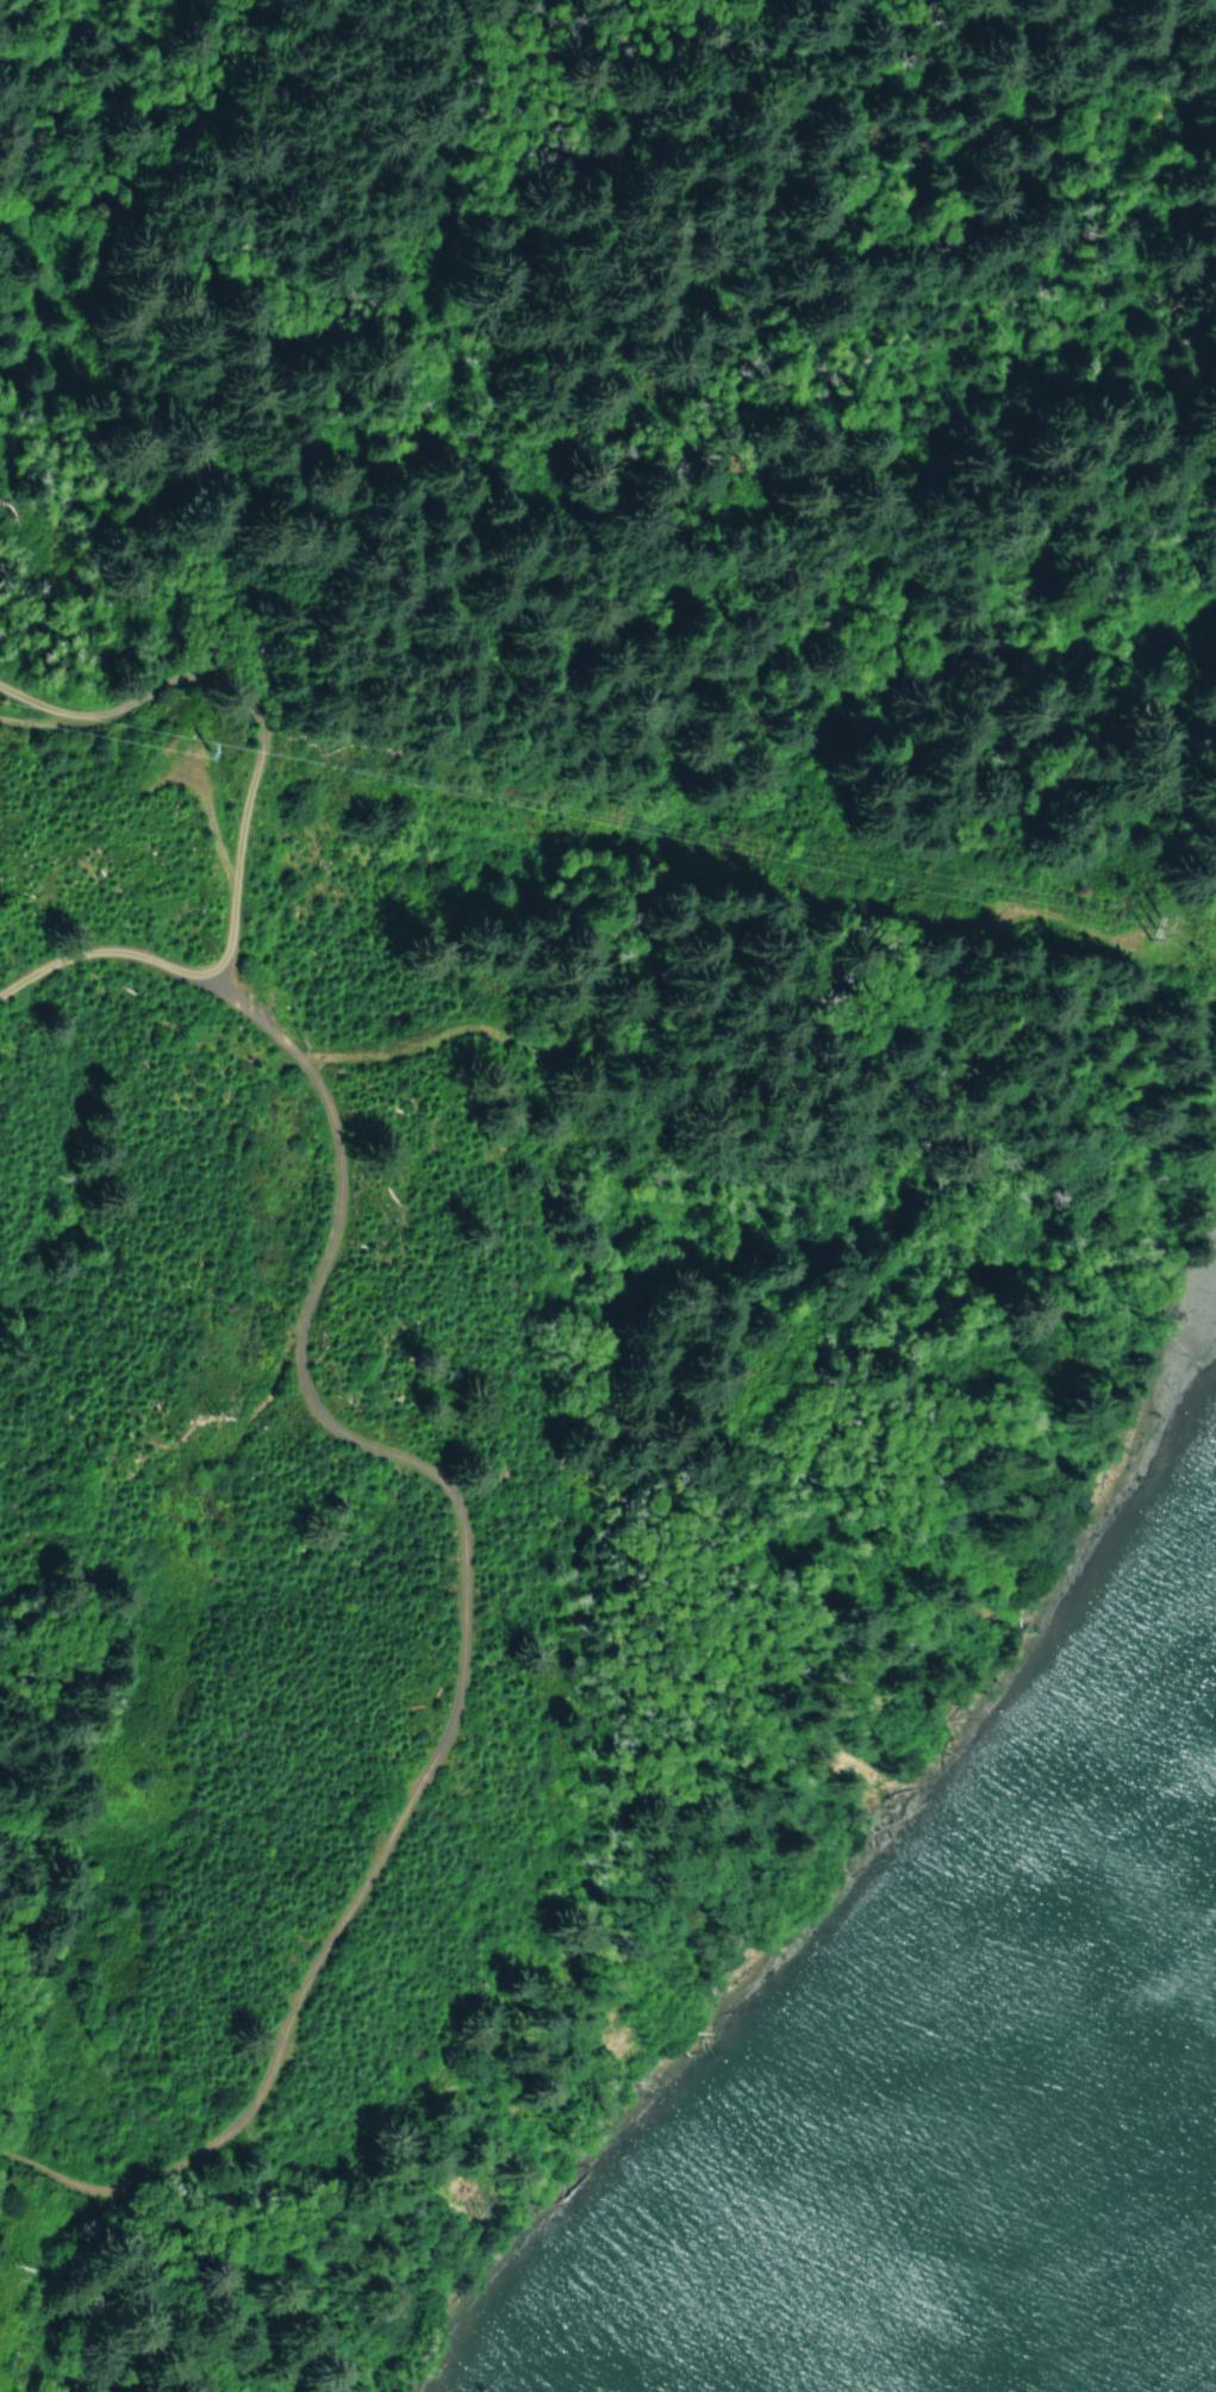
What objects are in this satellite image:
road: (245, 714)
power tower: (220, 749)
power tower: (1139, 928)
road: (457, 1528)

